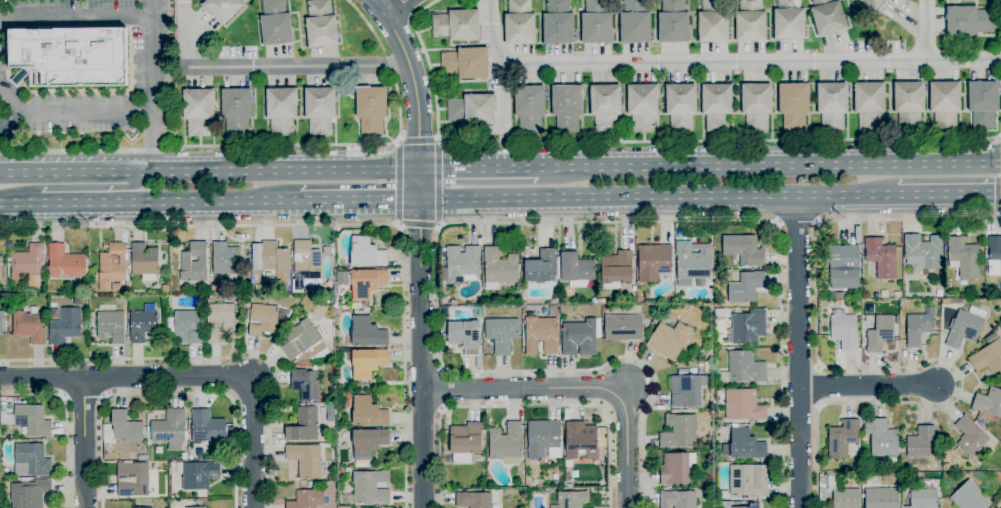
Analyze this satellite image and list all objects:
building: (871, 4)
road: (397, 7)
building: (222, 9)
road: (405, 10)
building: (828, 16)
road: (73, 18)
building: (789, 20)
building: (968, 21)
building: (558, 22)
building: (635, 22)
building: (673, 22)
building: (751, 22)
building: (520, 23)
building: (597, 23)
building: (713, 23)
building: (276, 24)
building: (320, 25)
building: (457, 25)
road: (371, 30)
road: (925, 31)
building: (69, 57)
road: (500, 62)
road: (751, 62)
building: (466, 63)
road: (263, 67)
road: (149, 85)
road: (434, 93)
building: (945, 103)
building: (983, 103)
building: (869, 104)
building: (909, 104)
building: (832, 105)
building: (643, 106)
building: (717, 106)
building: (757, 106)
building: (794, 106)
building: (567, 107)
building: (605, 107)
building: (681, 107)
building: (371, 108)
building: (530, 108)
road: (69, 109)
building: (471, 109)
building: (281, 110)
building: (320, 110)
building: (198, 111)
building: (237, 111)
road: (10, 118)
road: (999, 138)
road: (748, 141)
road: (416, 142)
road: (238, 148)
road: (773, 163)
road: (482, 165)
road: (209, 167)
road: (90, 188)
road: (949, 196)
road: (658, 199)
road: (356, 204)
road: (154, 205)
road: (8, 206)
road: (796, 222)
road: (500, 223)
road: (341, 224)
road: (419, 227)
road: (421, 248)
building: (744, 249)
building: (923, 252)
building: (366, 253)
building: (994, 256)
building: (881, 257)
building: (963, 257)
building: (226, 259)
building: (693, 260)
building: (275, 261)
building: (66, 262)
building: (144, 262)
building: (653, 262)
building: (194, 263)
building: (305, 264)
building: (461, 264)
building: (28, 265)
building: (112, 267)
building: (843, 267)
building: (499, 268)
building: (1, 269)
building: (616, 269)
building: (541, 270)
building: (576, 270)
building: (343, 278)
building: (681, 282)
building: (367, 283)
building: (116, 287)
building: (746, 287)
building: (207, 288)
building: (202, 295)
building: (840, 295)
building: (897, 295)
building: (444, 300)
building: (478, 301)
building: (83, 302)
building: (454, 302)
building: (945, 302)
building: (364, 305)
building: (476, 311)
building: (283, 313)
building: (262, 320)
building: (1, 322)
building: (219, 322)
building: (187, 325)
building: (29, 326)
building: (65, 326)
building: (111, 326)
building: (142, 326)
building: (623, 327)
building: (748, 327)
building: (917, 328)
building: (965, 328)
building: (708, 329)
building: (845, 331)
building: (367, 332)
building: (502, 334)
building: (880, 334)
building: (465, 335)
building: (541, 335)
building: (443, 336)
building: (579, 337)
building: (300, 339)
building: (669, 339)
road: (799, 352)
building: (988, 355)
road: (211, 358)
building: (367, 362)
building: (743, 368)
road: (862, 368)
road: (125, 377)
building: (305, 385)
building: (357, 385)
road: (868, 387)
road: (585, 388)
building: (361, 390)
road: (442, 390)
building: (687, 390)
road: (169, 394)
road: (84, 398)
building: (323, 399)
building: (989, 402)
building: (741, 404)
road: (524, 406)
building: (368, 412)
building: (28, 419)
road: (66, 421)
building: (304, 425)
building: (207, 427)
building: (122, 428)
building: (170, 428)
building: (679, 431)
building: (881, 437)
building: (843, 438)
building: (543, 439)
building: (581, 440)
building: (971, 440)
building: (921, 441)
road: (251, 442)
building: (369, 442)
building: (465, 442)
road: (83, 443)
building: (506, 443)
building: (745, 444)
building: (135, 449)
building: (159, 449)
building: (184, 456)
building: (142, 458)
building: (32, 460)
building: (307, 461)
building: (891, 463)
building: (361, 465)
building: (676, 468)
building: (198, 474)
building: (748, 480)
building: (864, 481)
building: (134, 482)
building: (479, 482)
building: (310, 484)
building: (371, 487)
building: (29, 493)
building: (842, 493)
building: (970, 497)
building: (882, 498)
building: (307, 499)
building: (571, 499)
building: (677, 499)
building: (923, 499)
building: (474, 500)
building: (754, 505)
building: (145, 507)
building: (194, 507)

